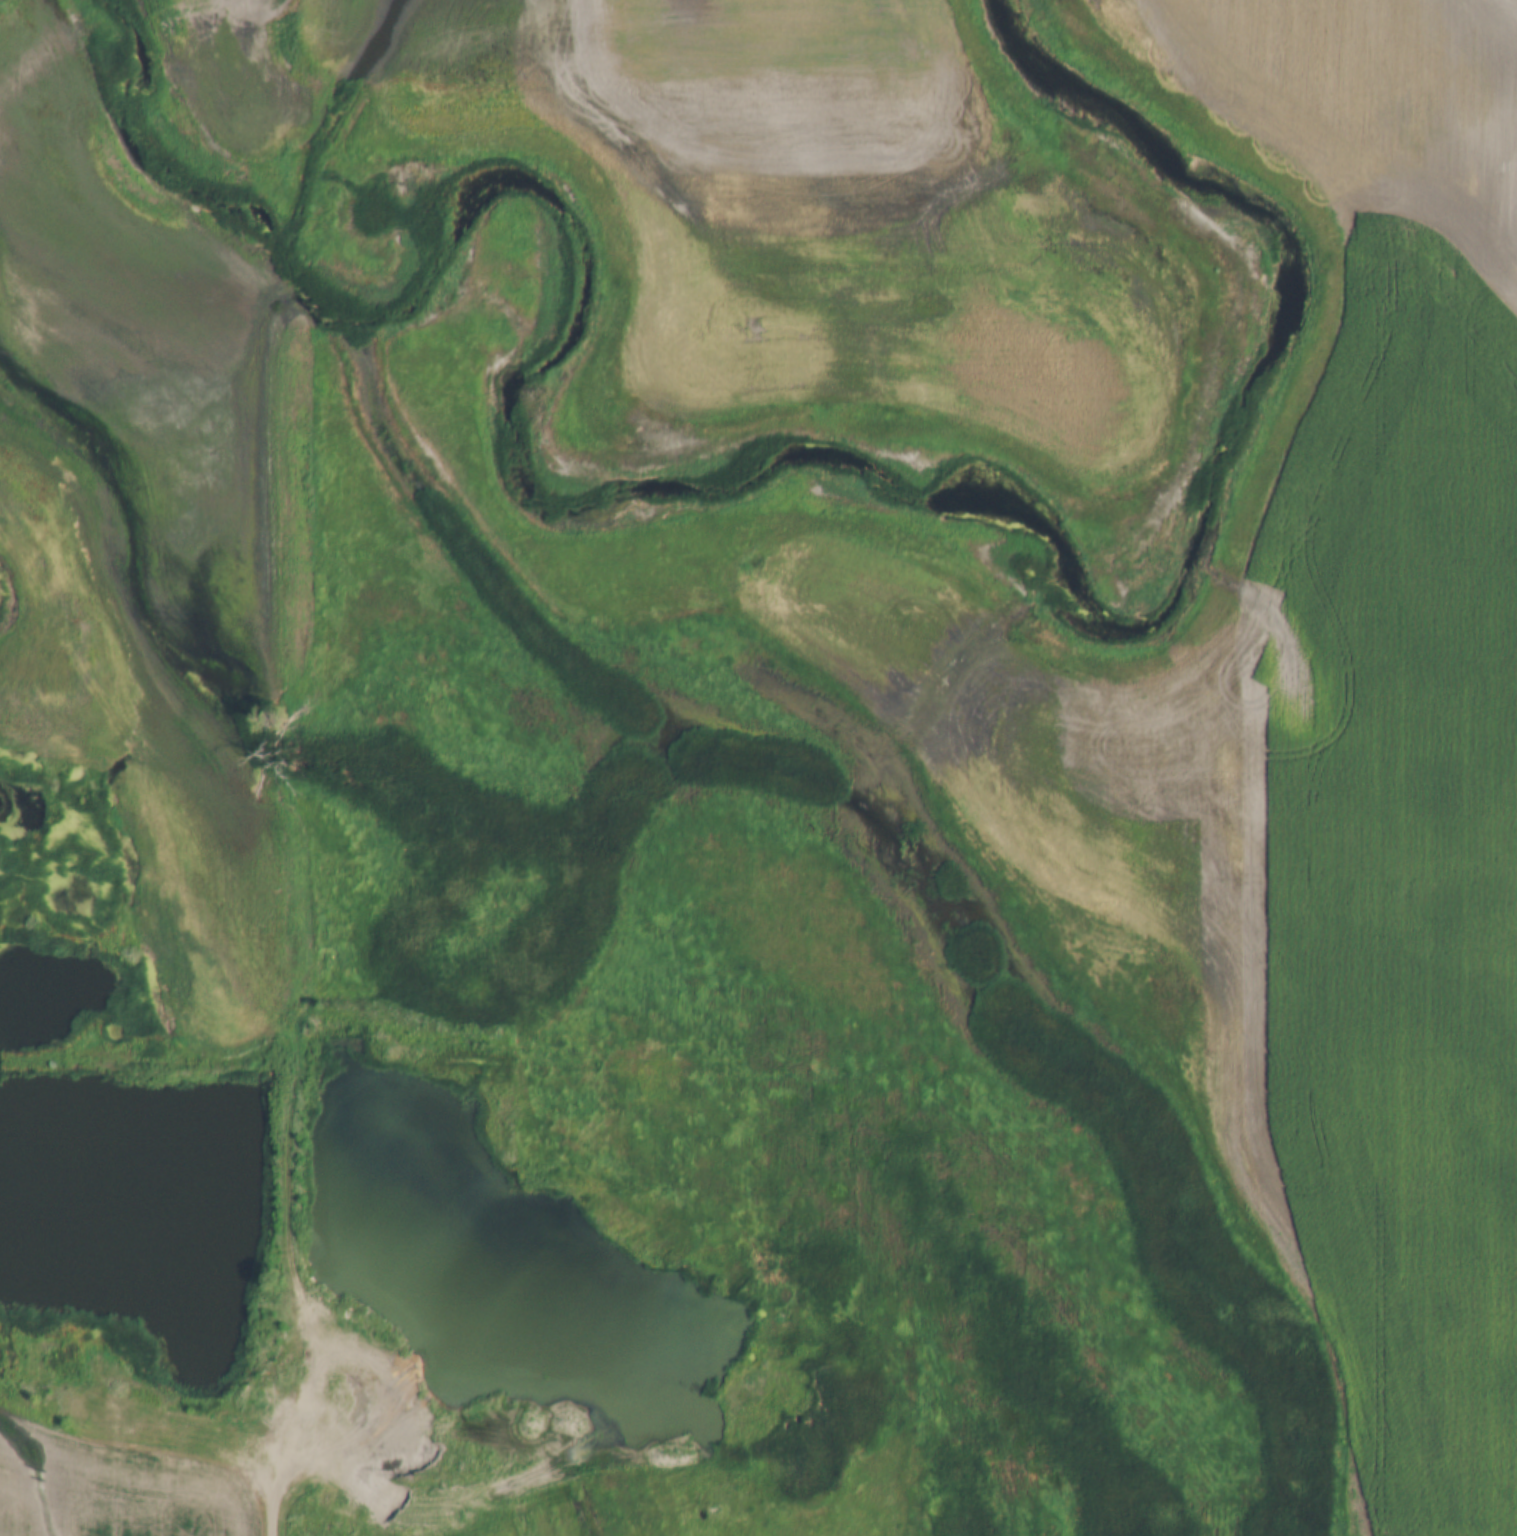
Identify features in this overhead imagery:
road: (37, 620)
road: (71, 828)
quarry: (362, 1269)
building: (281, 1434)
road: (218, 1449)

